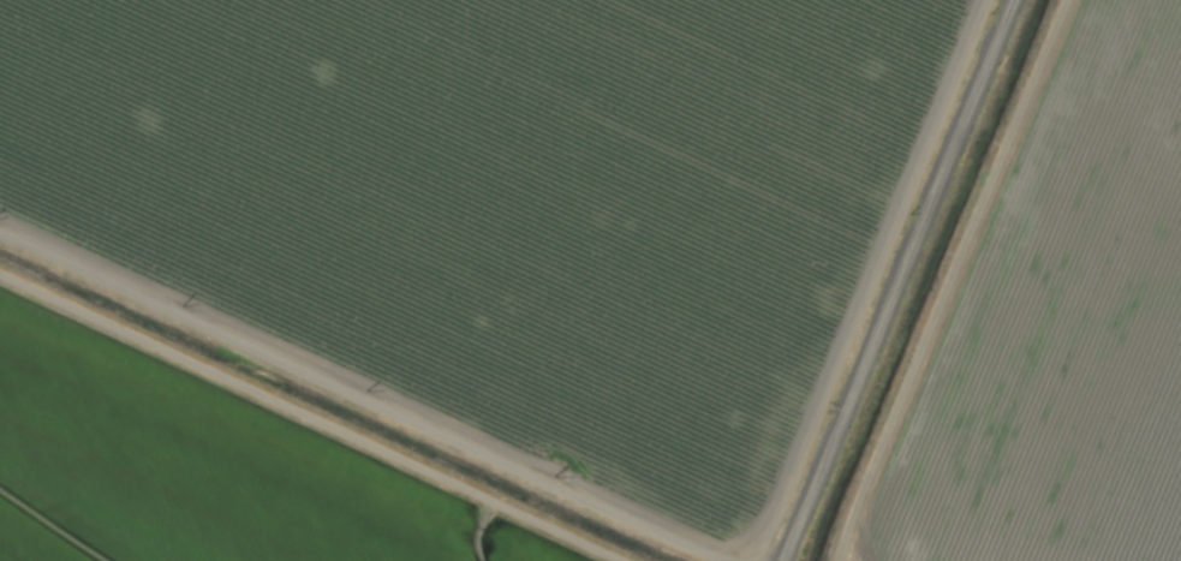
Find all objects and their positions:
crop: (590, 280)
road: (903, 280)

